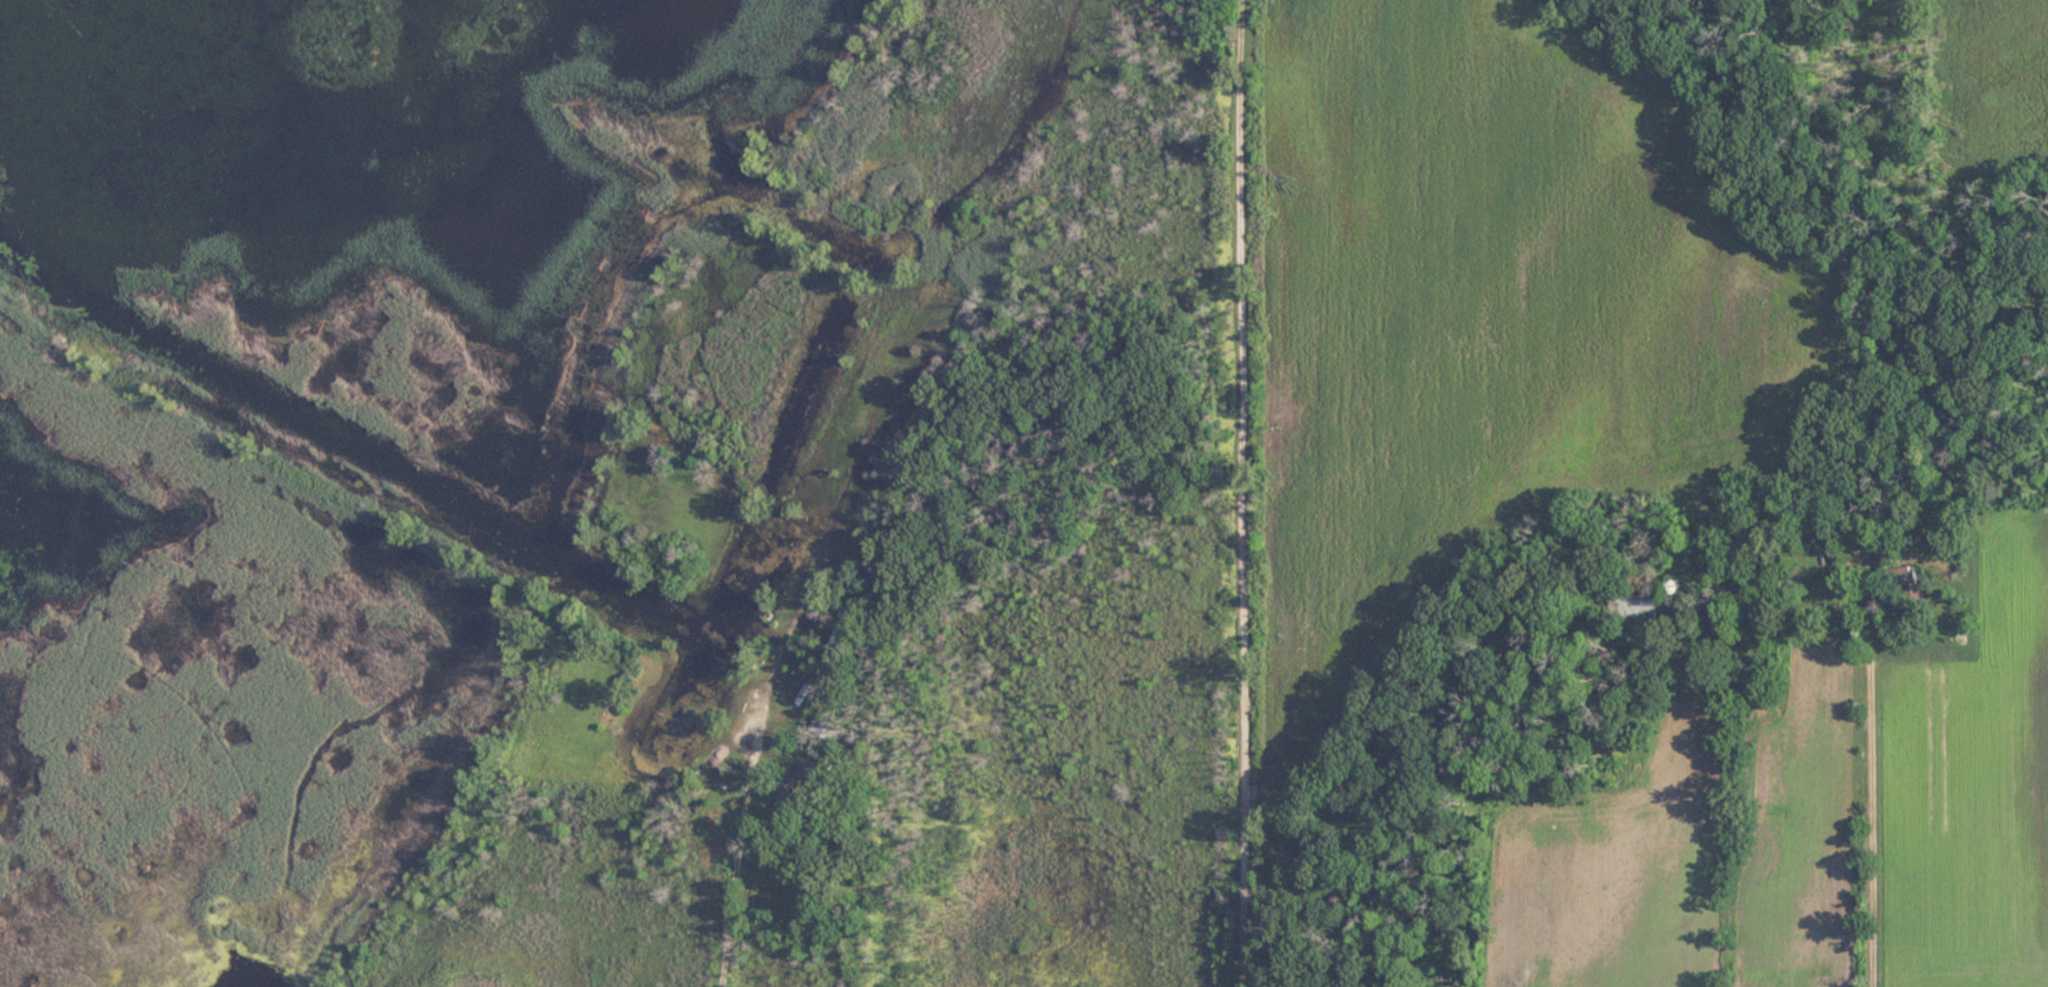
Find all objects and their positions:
road: (1237, 493)
building: (1907, 574)
building: (1720, 620)
building: (839, 639)
road: (769, 686)
road: (1876, 767)

